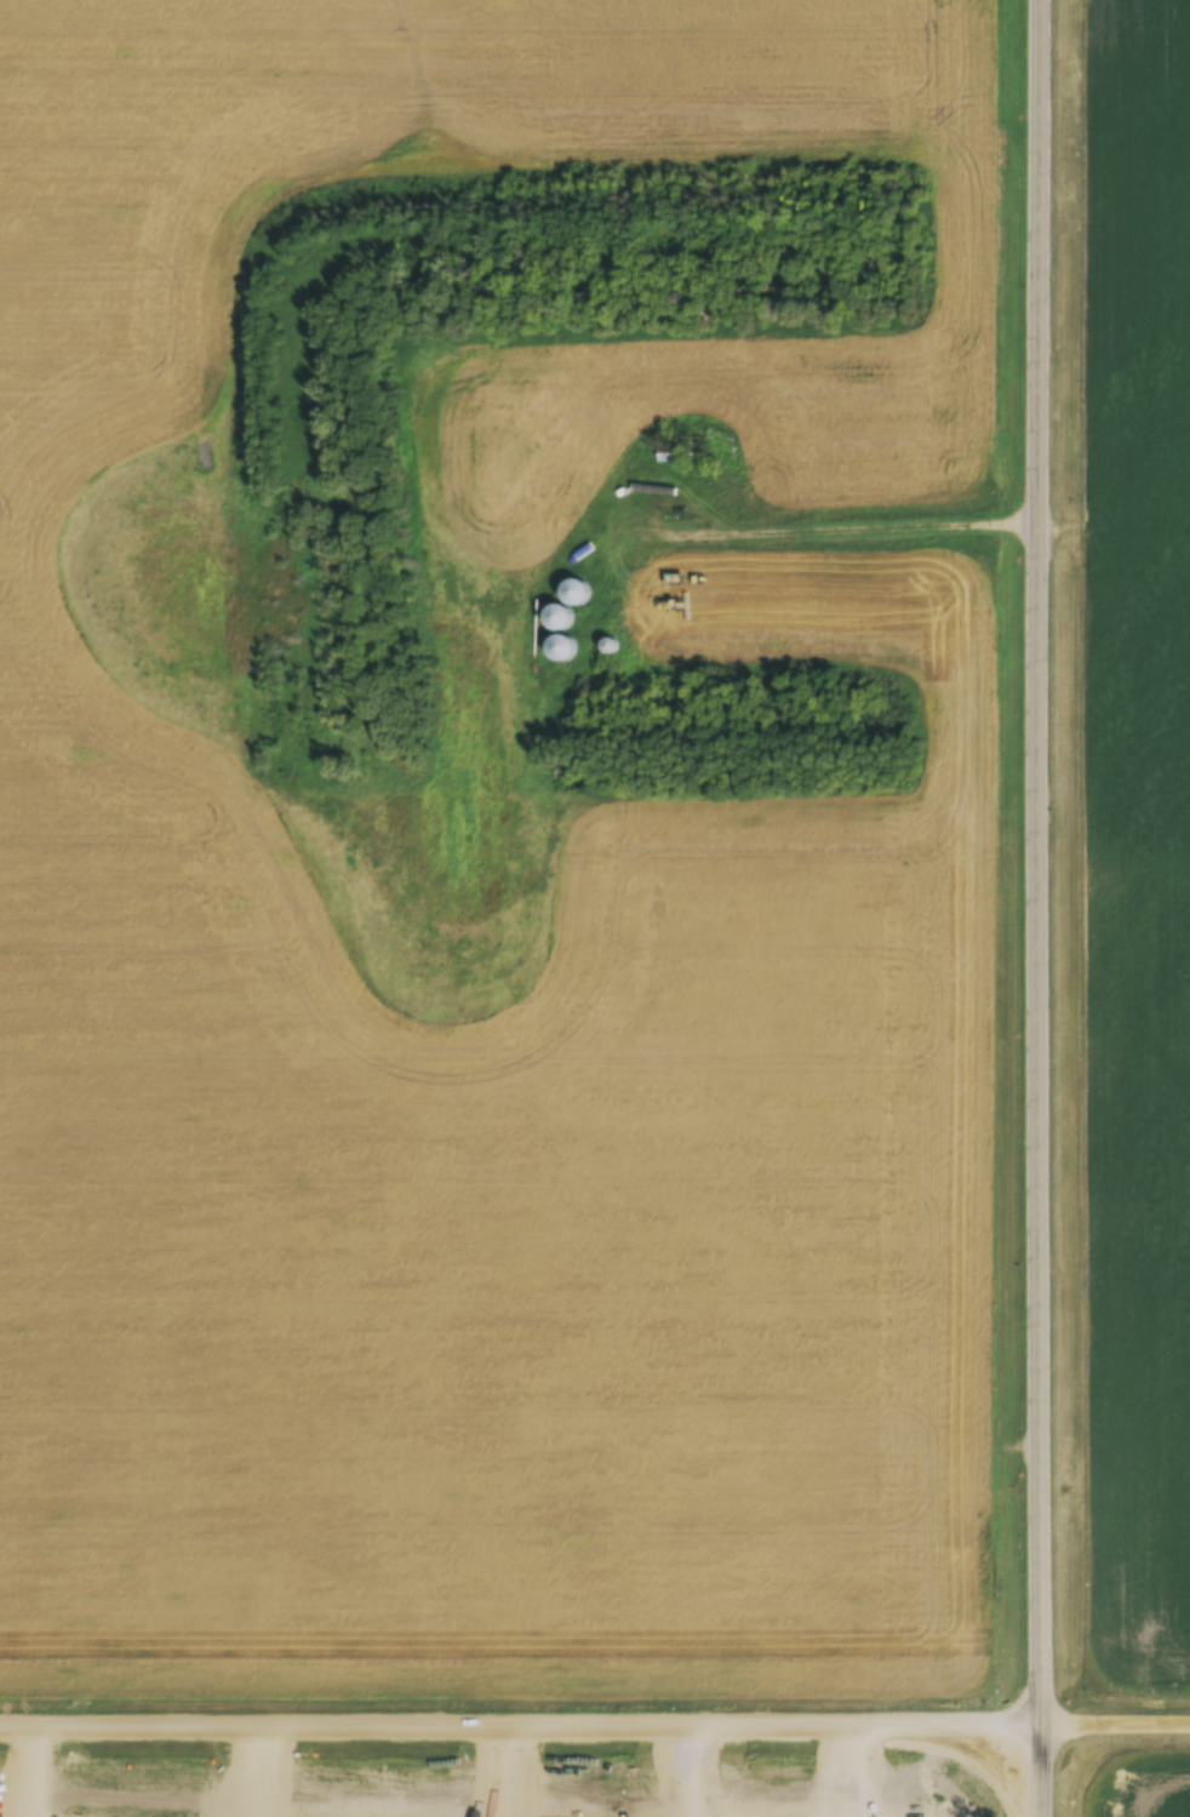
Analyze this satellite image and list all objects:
building: (685, 452)
road: (894, 525)
building: (572, 594)
building: (555, 621)
building: (605, 647)
building: (557, 648)
road: (1089, 908)
road: (595, 1725)

